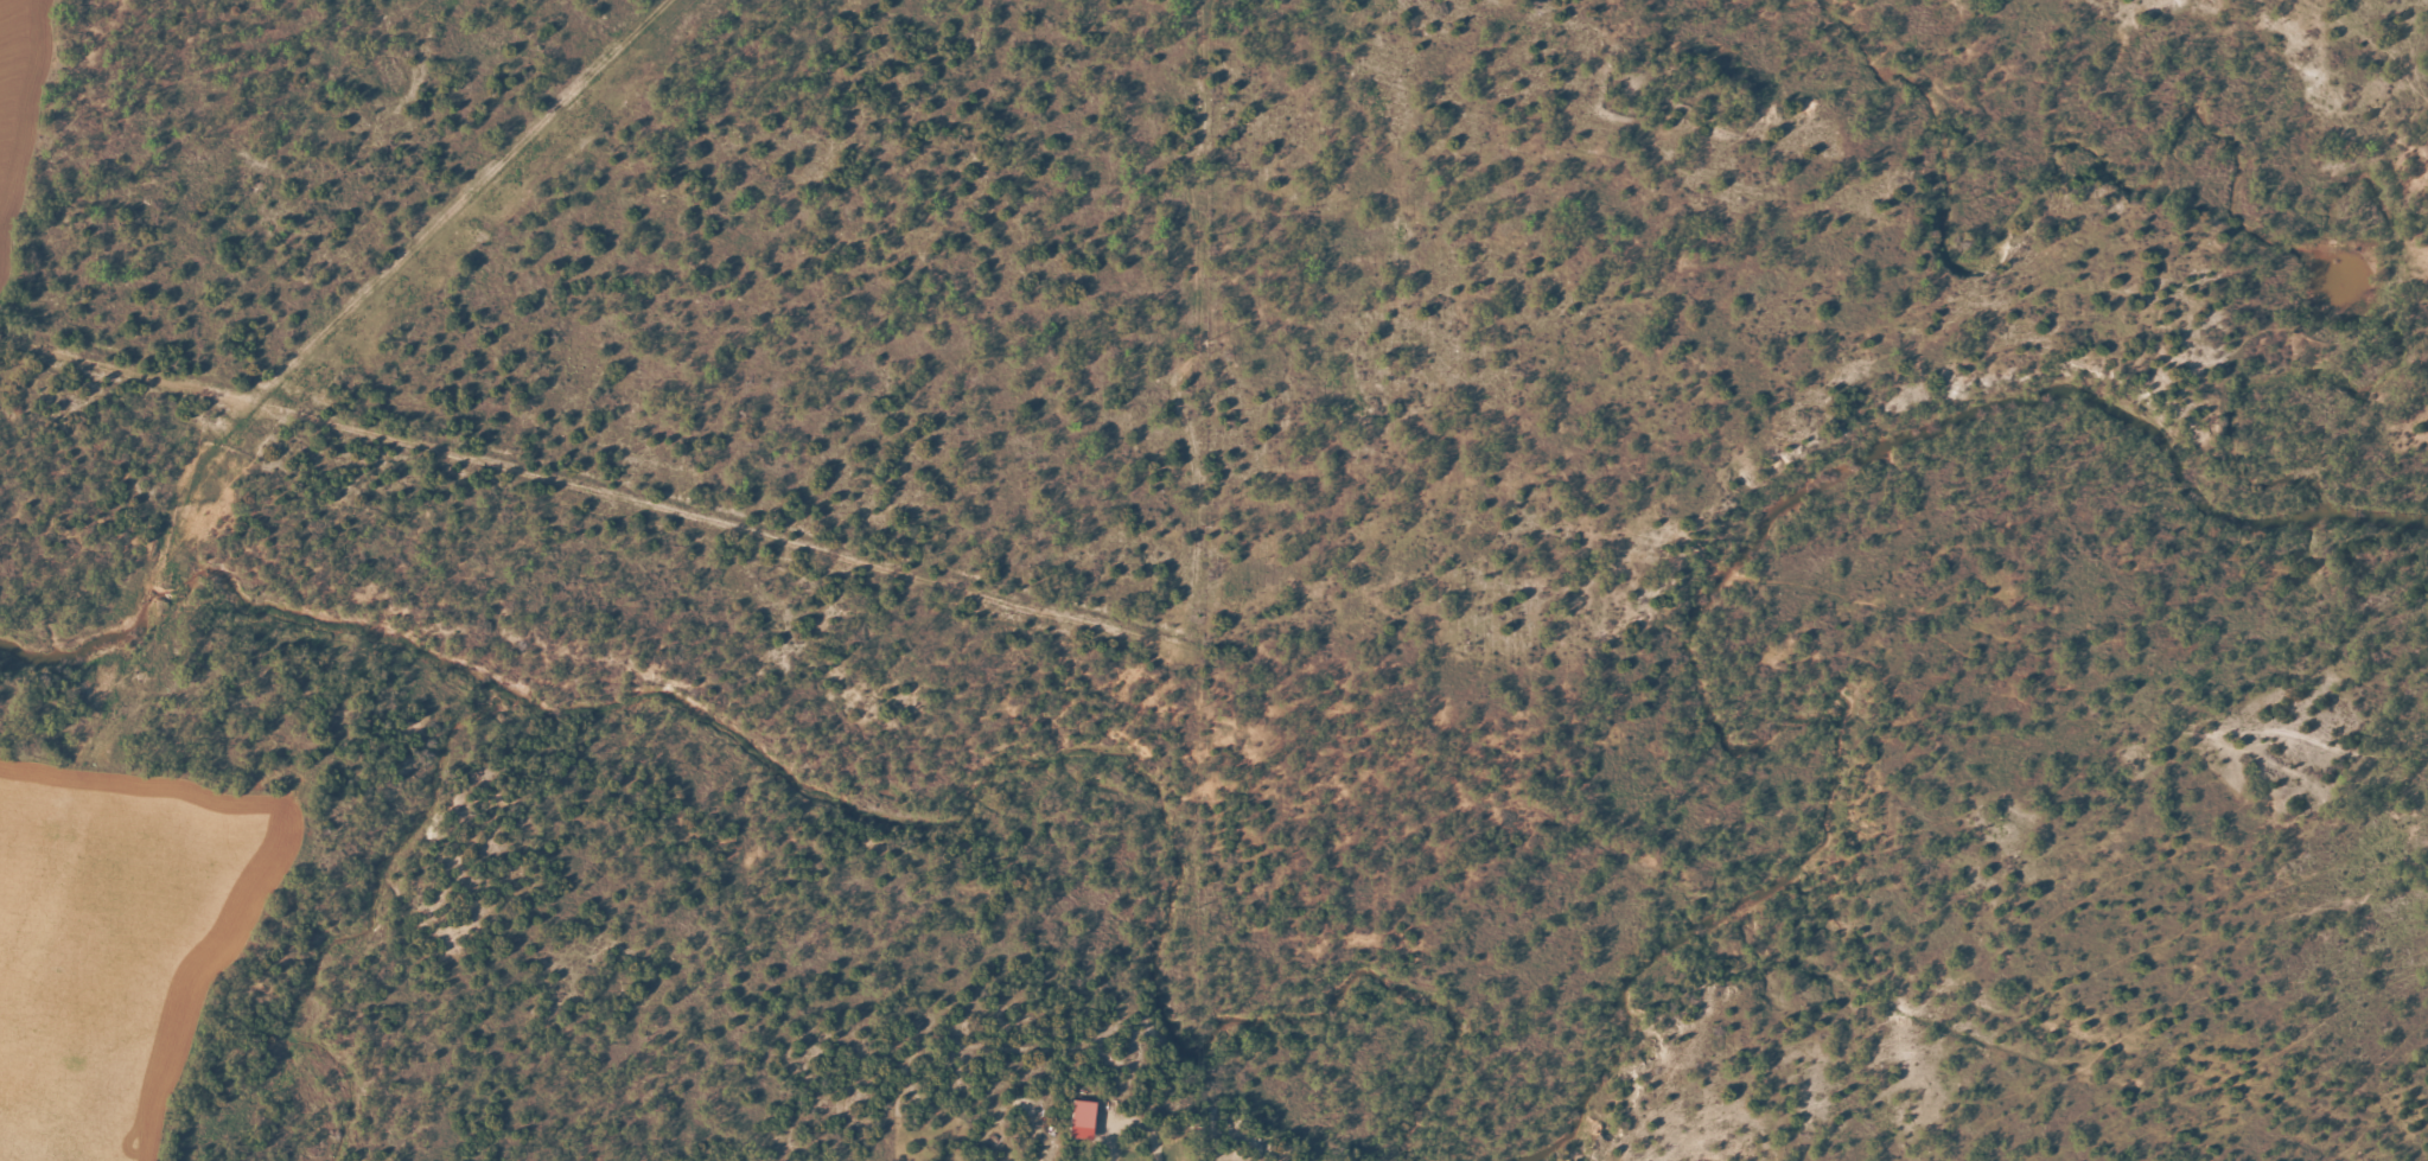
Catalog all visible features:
building: (1084, 1117)

